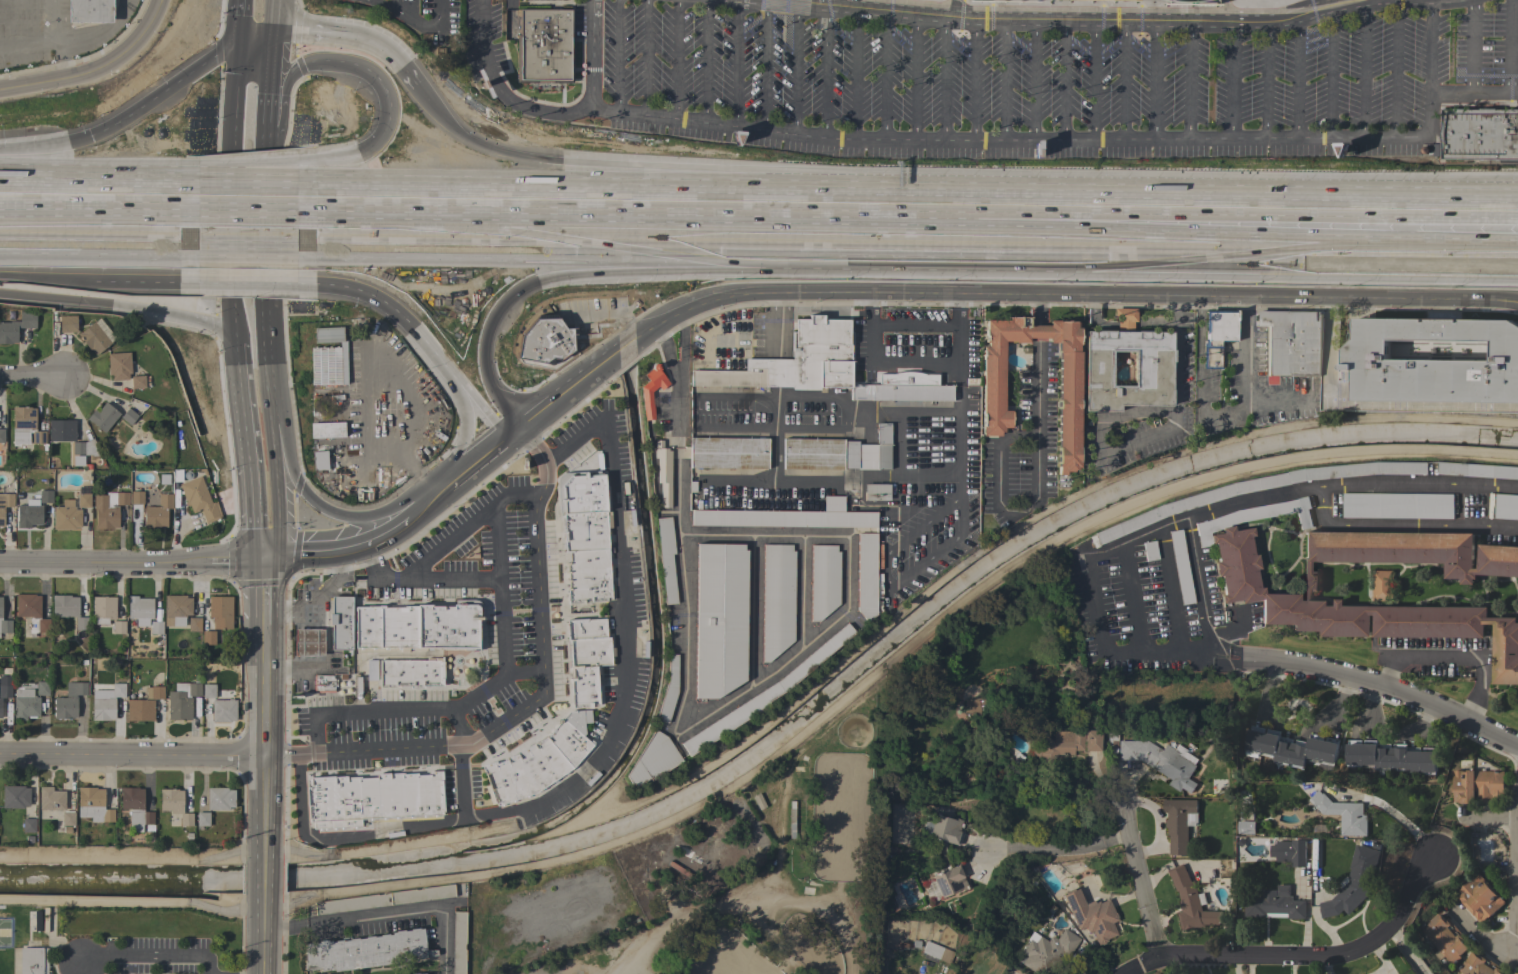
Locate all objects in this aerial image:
building: (1207, 1)
building: (90, 11)
road: (271, 18)
road: (412, 18)
road: (241, 20)
road: (1291, 20)
road: (979, 21)
road: (307, 34)
traffic signals: (270, 36)
road: (255, 38)
road: (59, 39)
road: (73, 41)
traffic signals: (240, 41)
road: (1430, 46)
road: (1471, 46)
road: (1510, 46)
building: (543, 47)
road: (378, 50)
road: (616, 56)
road: (645, 58)
road: (676, 59)
road: (704, 61)
road: (357, 62)
road: (735, 62)
road: (765, 64)
road: (95, 68)
road: (795, 68)
road: (1395, 68)
road: (195, 70)
road: (1363, 70)
road: (825, 71)
road: (855, 74)
road: (1330, 74)
road: (884, 76)
road: (914, 78)
road: (944, 79)
road: (1297, 79)
road: (974, 80)
road: (1004, 80)
road: (1034, 80)
road: (1064, 80)
road: (1154, 80)
road: (1189, 80)
road: (1231, 80)
road: (1093, 81)
road: (1123, 81)
road: (1266, 81)
road: (499, 93)
road: (265, 94)
road: (280, 109)
building: (1478, 134)
road: (1017, 140)
road: (67, 151)
road: (366, 161)
road: (698, 173)
road: (249, 182)
road: (170, 190)
road: (69, 194)
road: (169, 195)
road: (248, 196)
road: (1405, 199)
road: (655, 201)
road: (1152, 207)
road: (1405, 212)
railway: (759, 222)
road: (264, 226)
road: (99, 234)
road: (248, 236)
road: (558, 240)
road: (1143, 247)
road: (1493, 252)
road: (1493, 255)
road: (586, 266)
road: (99, 272)
road: (249, 273)
road: (364, 282)
road: (999, 293)
road: (235, 302)
road: (1038, 309)
road: (1176, 310)
road: (610, 311)
road: (1093, 311)
building: (68, 323)
road: (778, 325)
road: (1154, 326)
building: (16, 327)
road: (1124, 327)
road: (1105, 328)
road: (1038, 331)
road: (182, 332)
building: (1216, 335)
building: (94, 338)
building: (544, 340)
building: (1292, 342)
road: (432, 351)
road: (1200, 355)
building: (327, 356)
road: (881, 356)
road: (270, 358)
building: (1434, 361)
building: (118, 366)
building: (821, 366)
building: (1150, 369)
road: (676, 371)
road: (775, 373)
road: (1245, 373)
road: (32, 376)
building: (137, 382)
building: (1068, 382)
building: (651, 390)
road: (1277, 397)
road: (401, 399)
road: (1370, 403)
road: (479, 408)
road: (1173, 409)
road: (368, 412)
road: (862, 413)
building: (128, 416)
building: (103, 417)
road: (254, 417)
building: (25, 427)
building: (61, 430)
building: (325, 430)
road: (816, 430)
road: (468, 432)
road: (514, 435)
building: (2, 436)
building: (85, 448)
building: (728, 453)
building: (819, 454)
building: (882, 457)
building: (318, 459)
road: (478, 465)
road: (1036, 468)
building: (1478, 470)
building: (663, 472)
road: (910, 477)
road: (281, 481)
road: (958, 484)
road: (1361, 486)
building: (876, 492)
building: (45, 496)
building: (136, 497)
building: (199, 499)
building: (1198, 499)
building: (83, 500)
road: (430, 503)
building: (5, 505)
road: (318, 505)
building: (1397, 505)
building: (1506, 506)
building: (108, 509)
building: (158, 512)
building: (29, 514)
building: (66, 516)
building: (784, 519)
road: (1403, 526)
road: (676, 530)
building: (583, 537)
road: (444, 542)
building: (1150, 550)
road: (267, 552)
road: (289, 552)
road: (342, 553)
road: (1122, 553)
building: (666, 558)
road: (104, 561)
road: (235, 562)
traffic signals: (262, 562)
building: (1181, 567)
building: (866, 575)
road: (450, 580)
building: (823, 581)
road: (889, 584)
building: (1382, 585)
road: (1200, 589)
building: (1242, 589)
road: (1170, 592)
road: (262, 593)
building: (777, 599)
road: (315, 601)
road: (1093, 604)
building: (0, 607)
building: (103, 609)
building: (176, 609)
building: (68, 610)
building: (220, 612)
building: (32, 613)
building: (143, 614)
building: (720, 619)
building: (341, 623)
building: (193, 624)
building: (417, 625)
building: (5, 626)
building: (118, 627)
road: (624, 628)
road: (503, 635)
building: (208, 637)
building: (308, 642)
road: (1184, 656)
road: (1453, 657)
building: (585, 659)
fountain: (457, 661)
road: (289, 669)
building: (409, 674)
building: (324, 683)
road: (1377, 686)
building: (42, 688)
building: (669, 690)
building: (208, 691)
building: (154, 692)
building: (4, 693)
building: (764, 694)
building: (181, 700)
road: (536, 700)
building: (24, 701)
building: (68, 701)
building: (104, 703)
building: (974, 706)
building: (140, 710)
building: (222, 710)
road: (363, 711)
park: (853, 731)
building: (1063, 743)
building: (1292, 748)
road: (133, 756)
building: (1391, 757)
building: (652, 759)
building: (1160, 761)
building: (535, 764)
building: (1477, 785)
building: (14, 796)
building: (371, 797)
building: (219, 798)
building: (51, 799)
road: (265, 799)
building: (174, 804)
building: (93, 805)
building: (135, 808)
building: (1344, 814)
park: (841, 817)
building: (791, 818)
building: (67, 819)
building: (202, 819)
road: (1158, 823)
building: (1180, 823)
building: (28, 825)
building: (945, 829)
road: (377, 831)
road: (1117, 837)
road: (1047, 848)
building: (1290, 852)
road: (133, 856)
road: (1138, 876)
park: (719, 878)
building: (950, 881)
building: (1354, 883)
road: (1515, 887)
building: (1479, 897)
building: (383, 899)
road: (743, 900)
building: (1192, 901)
building: (1275, 904)
road: (389, 912)
building: (1091, 915)
building: (44, 919)
building: (36, 921)
building: (1443, 938)
road: (1482, 940)
building: (458, 942)
park: (810, 945)
building: (364, 951)
building: (1047, 951)
road: (1406, 951)
building: (937, 952)
park: (715, 954)
road: (1515, 954)
parking lot: (137, 956)
road: (1298, 956)
road: (149, 958)
building: (33, 961)
building: (1478, 965)
building: (1516, 973)

